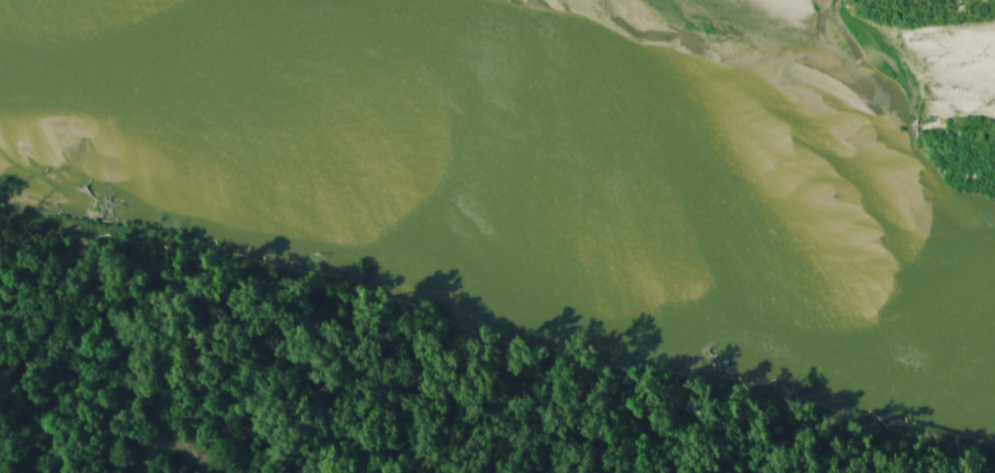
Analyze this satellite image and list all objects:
river: (641, 84)

